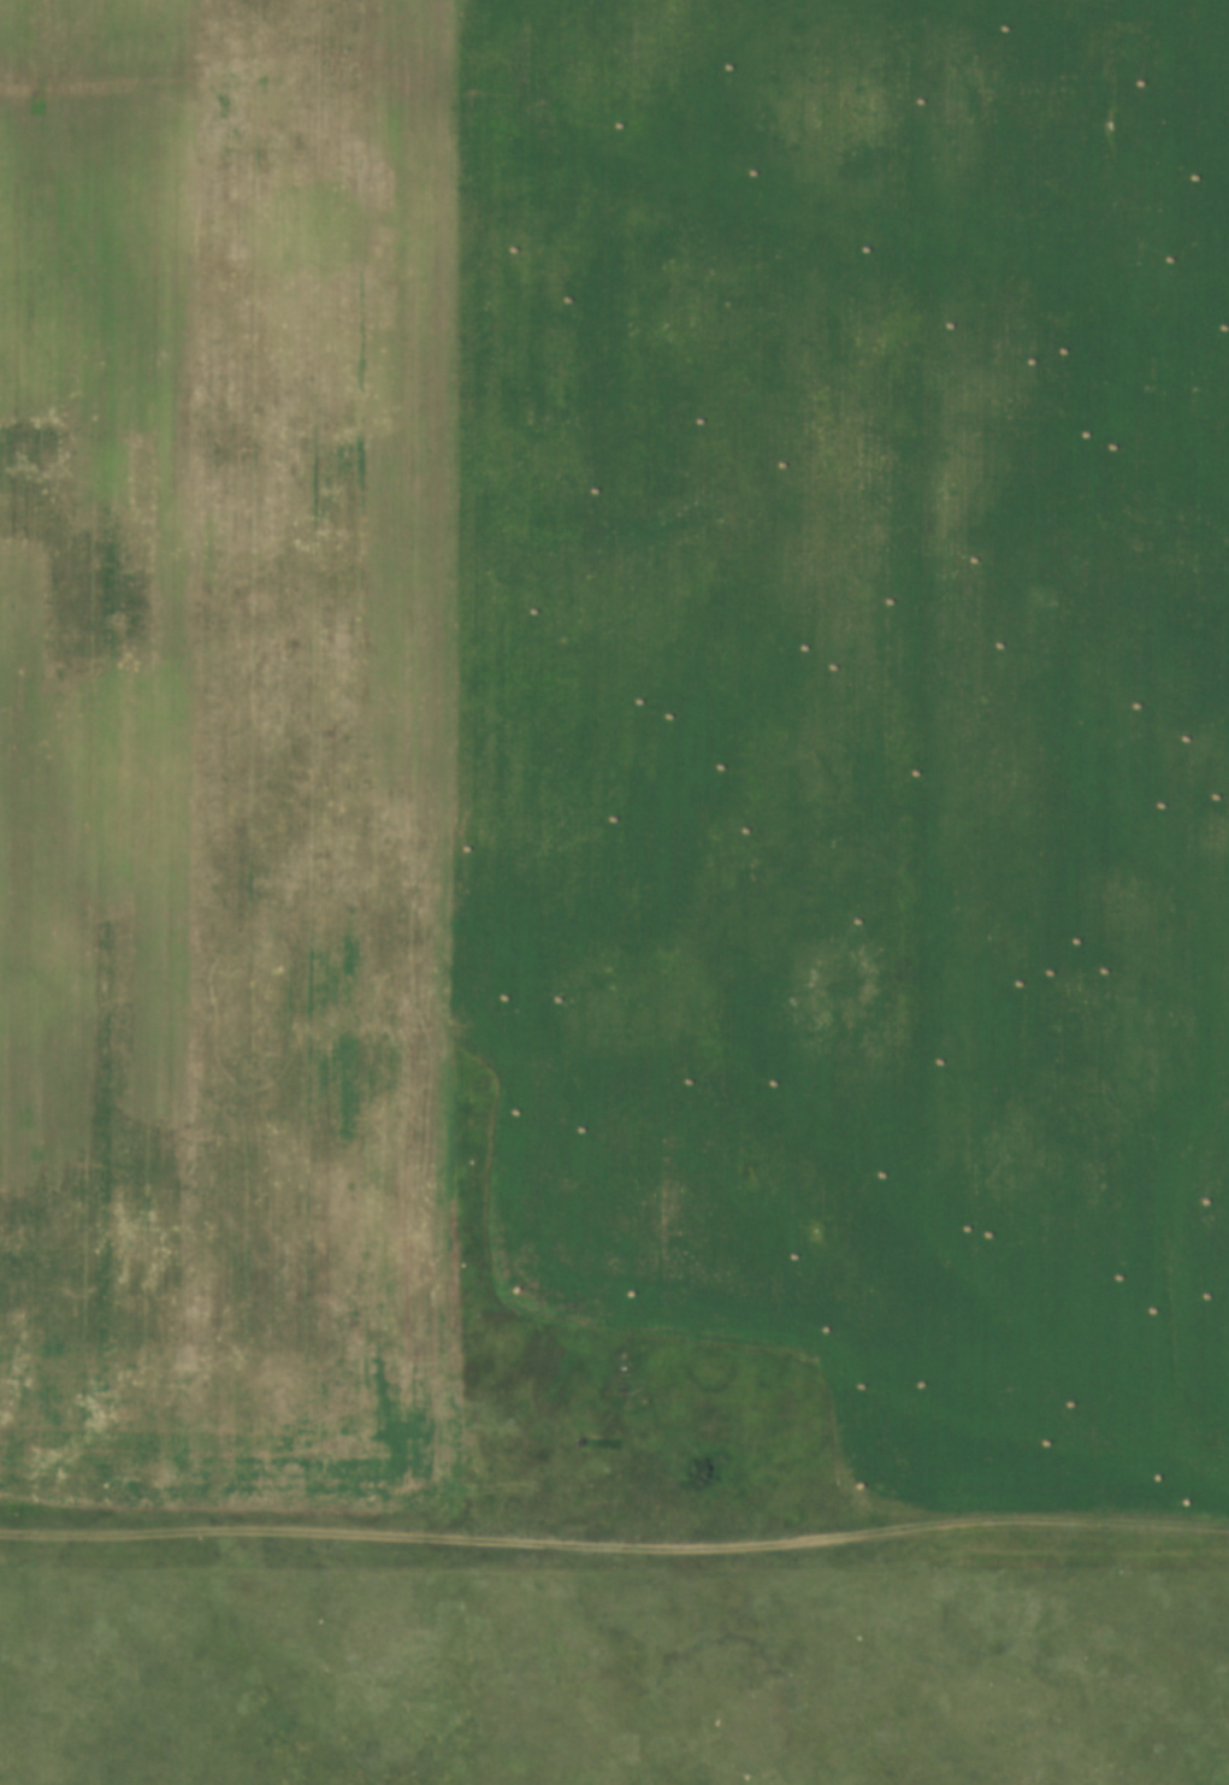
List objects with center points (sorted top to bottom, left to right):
road: (614, 1547)

